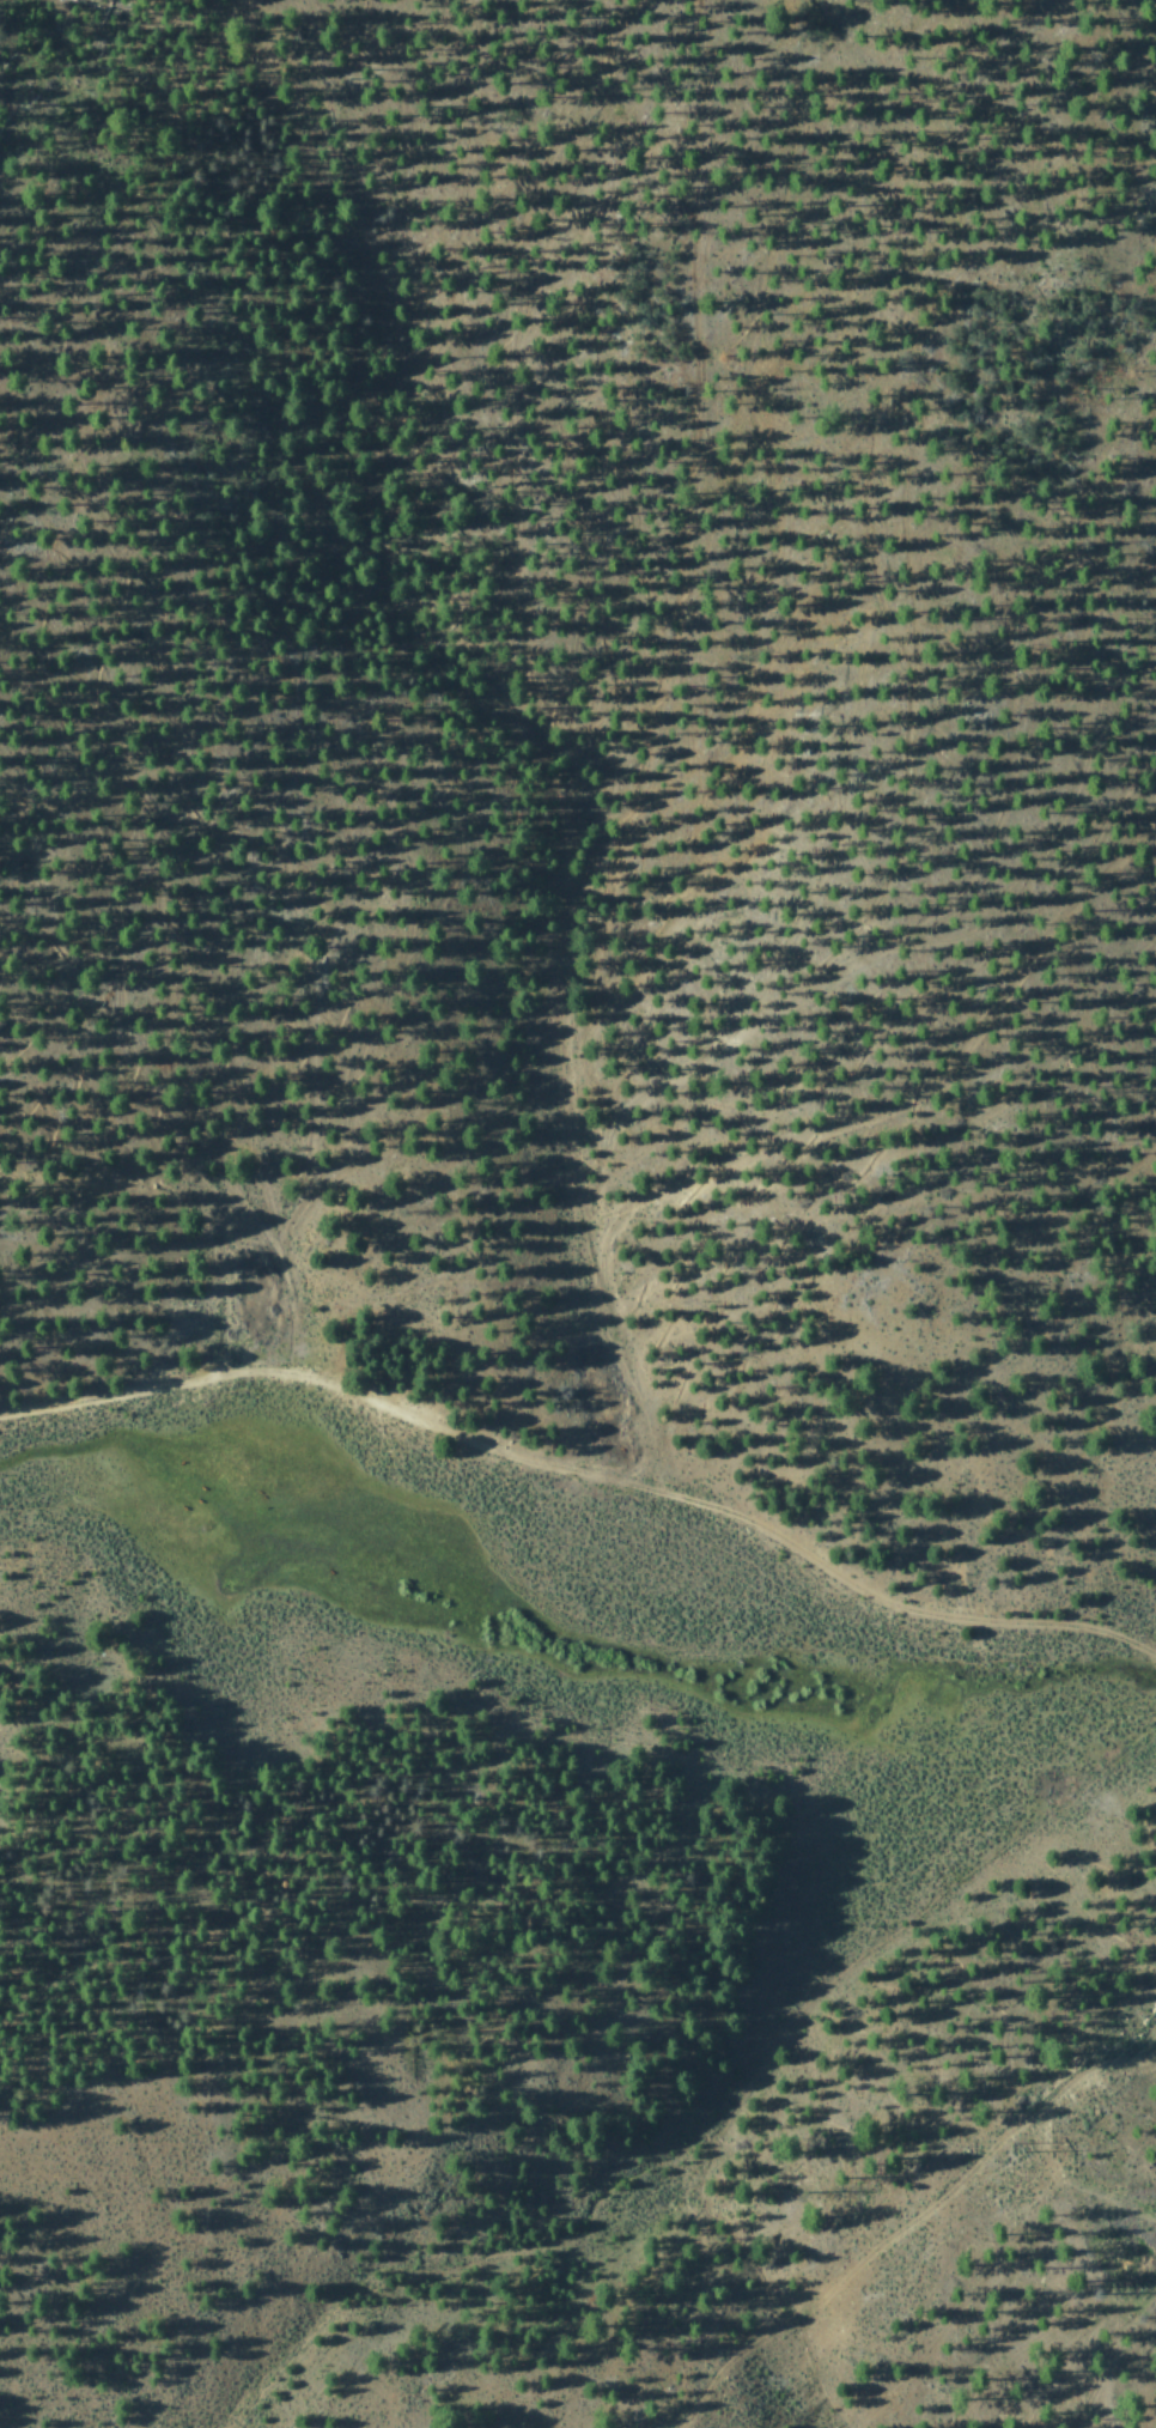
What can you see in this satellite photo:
road: (576, 1851)
power tower: (1024, 2159)

